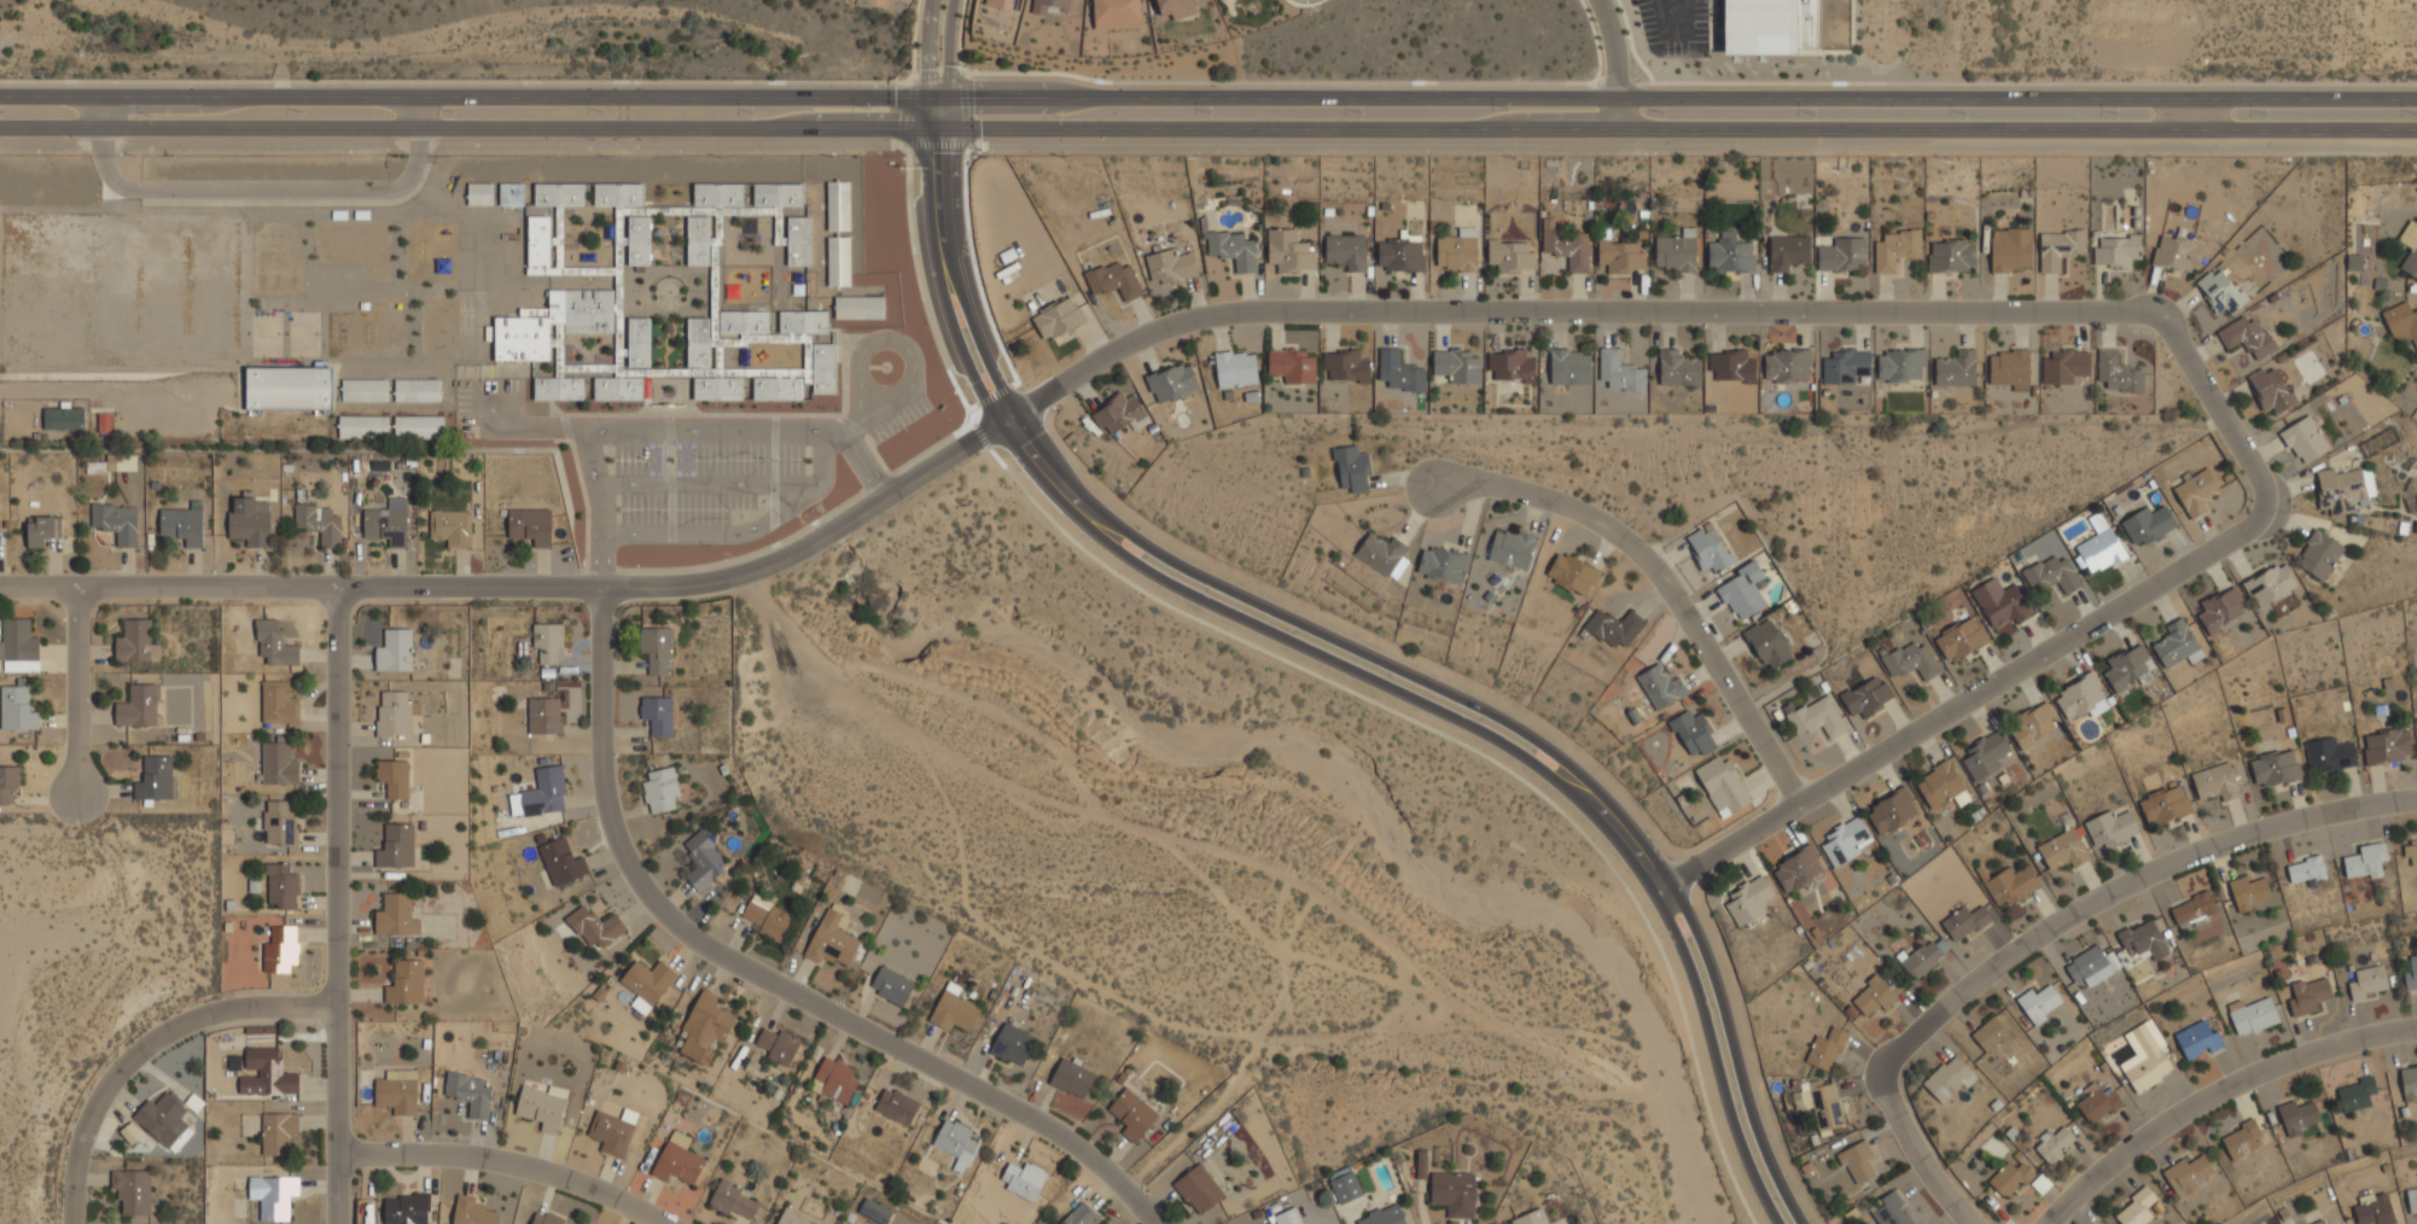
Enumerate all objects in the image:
building: (1218, 0)
building: (1003, 5)
building: (1048, 5)
building: (1175, 7)
building: (1114, 13)
building: (1770, 25)
parking lot: (1671, 27)
road: (1676, 34)
road: (959, 35)
road: (925, 48)
road: (947, 49)
road: (1612, 68)
road: (939, 76)
road: (496, 81)
traffic signals: (922, 99)
traffic signals: (948, 100)
road: (1207, 100)
road: (2185, 117)
traffic signals: (925, 135)
traffic signals: (949, 136)
road: (1207, 136)
road: (1207, 146)
road: (258, 191)
building: (479, 193)
building: (511, 193)
building: (558, 193)
building: (617, 193)
building: (715, 194)
building: (837, 204)
building: (784, 217)
building: (637, 239)
building: (698, 239)
building: (537, 244)
building: (1567, 246)
building: (2058, 246)
building: (1233, 249)
building: (1457, 249)
building: (1895, 249)
building: (2010, 249)
building: (1288, 250)
building: (1346, 250)
building: (1676, 250)
building: (1788, 250)
building: (2118, 250)
building: (2411, 250)
building: (2177, 252)
building: (1400, 253)
building: (1621, 253)
building: (1841, 253)
building: (1512, 255)
building: (1730, 255)
building: (1951, 255)
building: (837, 260)
building: (2352, 263)
building: (1170, 266)
building: (1114, 278)
building: (2220, 288)
building: (858, 305)
road: (2043, 310)
building: (1058, 317)
building: (2401, 319)
building: (551, 321)
building: (742, 321)
building: (802, 322)
building: (2247, 334)
building: (637, 342)
building: (706, 363)
building: (1346, 363)
building: (1787, 363)
building: (1900, 363)
building: (1291, 365)
building: (1457, 365)
building: (1510, 365)
building: (1731, 365)
building: (1569, 366)
building: (1847, 366)
building: (2063, 366)
building: (1235, 367)
building: (1677, 367)
building: (1956, 367)
building: (2009, 368)
building: (1400, 371)
building: (1619, 371)
building: (2118, 374)
building: (800, 377)
building: (1172, 381)
building: (558, 386)
building: (287, 387)
building: (363, 387)
building: (619, 387)
building: (2271, 387)
building: (415, 389)
road: (100, 392)
building: (1118, 412)
building: (63, 418)
road: (1002, 421)
building: (104, 422)
building: (417, 425)
building: (361, 426)
road: (537, 426)
road: (715, 430)
building: (2304, 438)
building: (122, 461)
road: (868, 465)
building: (1352, 467)
road: (705, 483)
building: (2343, 488)
building: (2195, 490)
road: (598, 506)
building: (249, 519)
building: (116, 520)
building: (386, 521)
building: (318, 523)
building: (181, 524)
building: (530, 524)
building: (2147, 524)
building: (450, 525)
building: (41, 530)
road: (740, 531)
building: (2101, 544)
building: (1510, 547)
building: (1710, 547)
building: (1382, 553)
building: (2318, 553)
building: (1442, 564)
building: (1572, 572)
building: (2052, 572)
road: (1664, 581)
building: (2270, 584)
road: (519, 585)
building: (1742, 590)
building: (1999, 601)
building: (2221, 610)
building: (1615, 626)
building: (19, 639)
building: (1961, 639)
building: (135, 641)
building: (274, 642)
building: (547, 642)
building: (1767, 642)
building: (2176, 643)
building: (657, 648)
building: (392, 649)
road: (1362, 655)
building: (1910, 658)
road: (1329, 663)
building: (2127, 666)
building: (1660, 686)
road: (76, 690)
building: (2079, 694)
building: (1866, 695)
building: (279, 703)
building: (139, 706)
building: (17, 707)
building: (394, 712)
building: (543, 715)
building: (658, 715)
building: (1817, 716)
building: (2033, 723)
building: (1693, 732)
building: (2387, 746)
building: (1984, 754)
building: (2330, 754)
building: (279, 763)
building: (2275, 768)
building: (392, 777)
building: (156, 780)
building: (2215, 781)
building: (7, 782)
building: (1723, 783)
building: (1940, 783)
building: (660, 789)
building: (543, 792)
building: (2165, 805)
building: (1892, 810)
building: (281, 823)
building: (2110, 828)
building: (1845, 840)
building: (395, 846)
building: (2063, 849)
building: (2410, 851)
building: (2365, 861)
building: (560, 862)
building: (703, 862)
building: (1798, 868)
building: (2305, 869)
building: (2011, 884)
building: (255, 885)
building: (283, 885)
building: (2248, 892)
building: (1748, 899)
road: (339, 904)
building: (231, 905)
building: (2192, 910)
building: (395, 916)
building: (767, 917)
building: (1964, 921)
building: (593, 926)
road: (2045, 929)
building: (831, 940)
building: (2143, 940)
building: (281, 949)
building: (1924, 956)
building: (2087, 964)
building: (2411, 974)
road: (764, 979)
building: (646, 981)
building: (2368, 981)
building: (406, 983)
building: (891, 985)
building: (1874, 993)
building: (2307, 995)
building: (2038, 1002)
building: (954, 1009)
building: (2253, 1015)
building: (704, 1028)
building: (1991, 1032)
building: (2197, 1039)
building: (776, 1044)
building: (1012, 1044)
road: (147, 1047)
building: (1825, 1048)
building: (2147, 1060)
building: (267, 1072)
building: (834, 1078)
building: (1072, 1078)
building: (1947, 1078)
building: (2409, 1083)
building: (397, 1092)
building: (467, 1092)
road: (2215, 1094)
building: (2355, 1094)
building: (2097, 1103)
building: (1821, 1104)
building: (541, 1106)
building: (896, 1106)
building: (1131, 1114)
building: (2297, 1117)
building: (163, 1120)
building: (130, 1132)
building: (276, 1132)
building: (610, 1132)
building: (2240, 1138)
building: (954, 1142)
building: (2054, 1142)
building: (676, 1159)
building: (1858, 1161)
road: (505, 1165)
building: (1421, 1165)
building: (2186, 1173)
building: (1023, 1179)
building: (2009, 1179)
building: (1346, 1188)
building: (132, 1189)
building: (1198, 1189)
building: (1454, 1193)
building: (273, 1194)
building: (732, 1199)
building: (2411, 1200)
building: (406, 1208)
building: (2136, 1208)
building: (1889, 1210)
building: (2372, 1210)
building: (471, 1211)
building: (874, 1211)
building: (1079, 1216)
building: (1384, 1216)
building: (543, 1217)
building: (1287, 1217)
building: (792, 1218)
building: (1532, 1218)
building: (2317, 1223)

